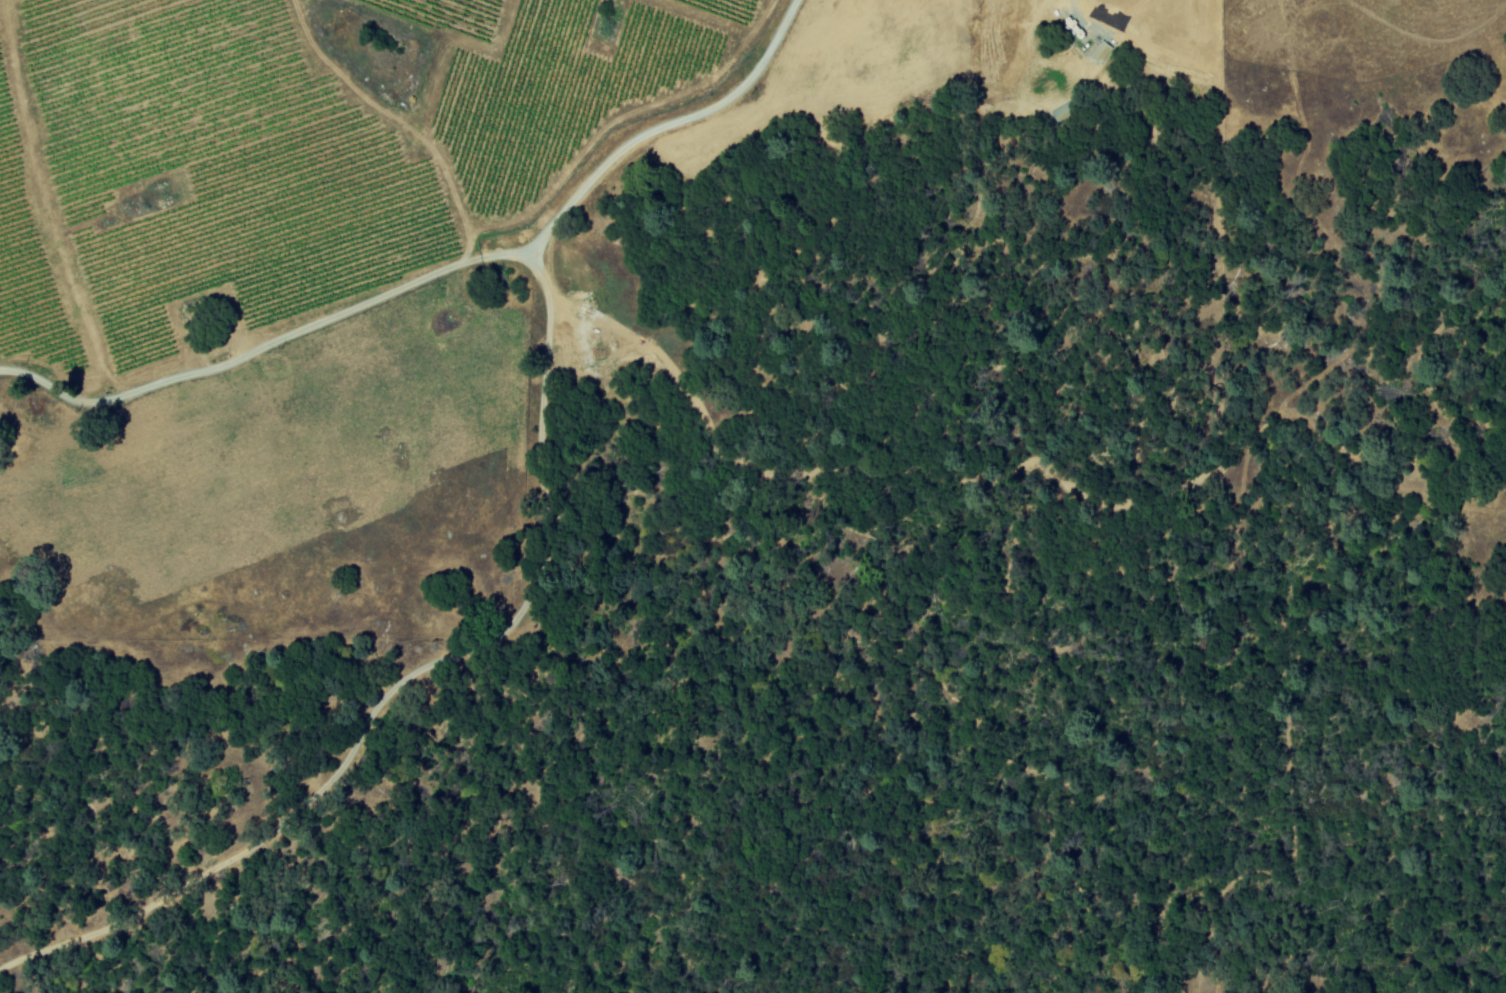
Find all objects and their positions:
road: (543, 483)

